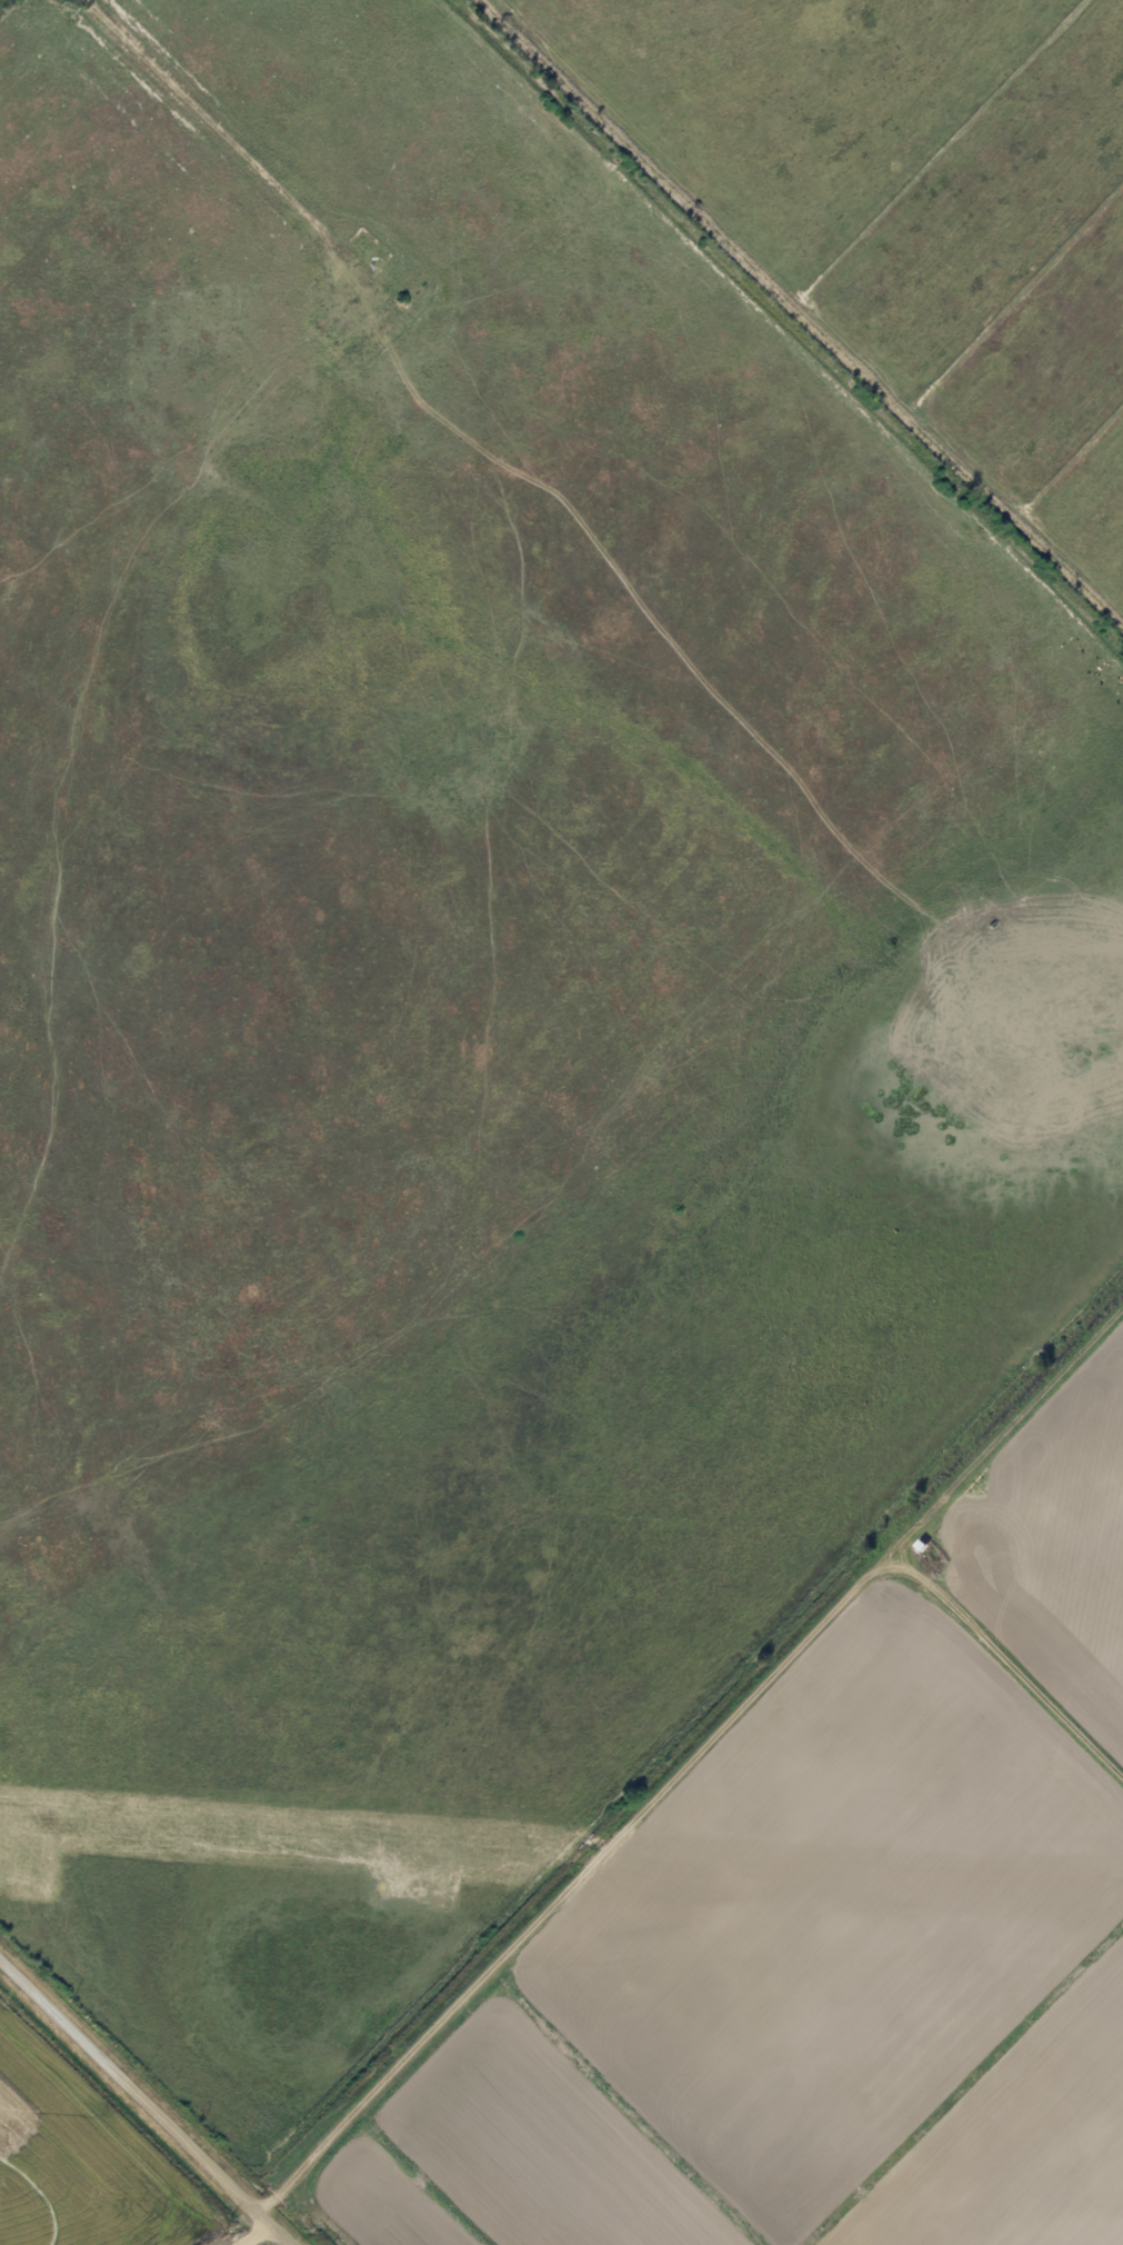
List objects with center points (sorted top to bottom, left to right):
road: (151, 2101)

